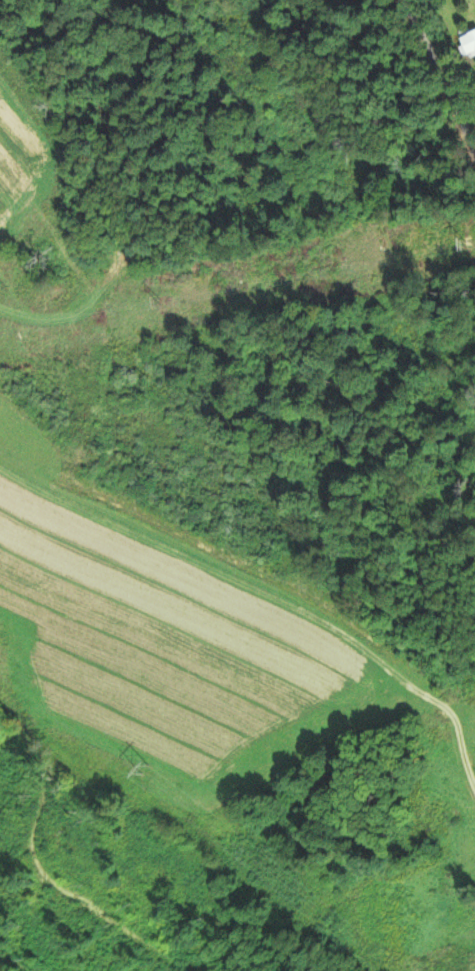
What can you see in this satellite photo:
building: (470, 44)
power tower: (430, 251)
power tower: (162, 299)
road: (429, 754)

